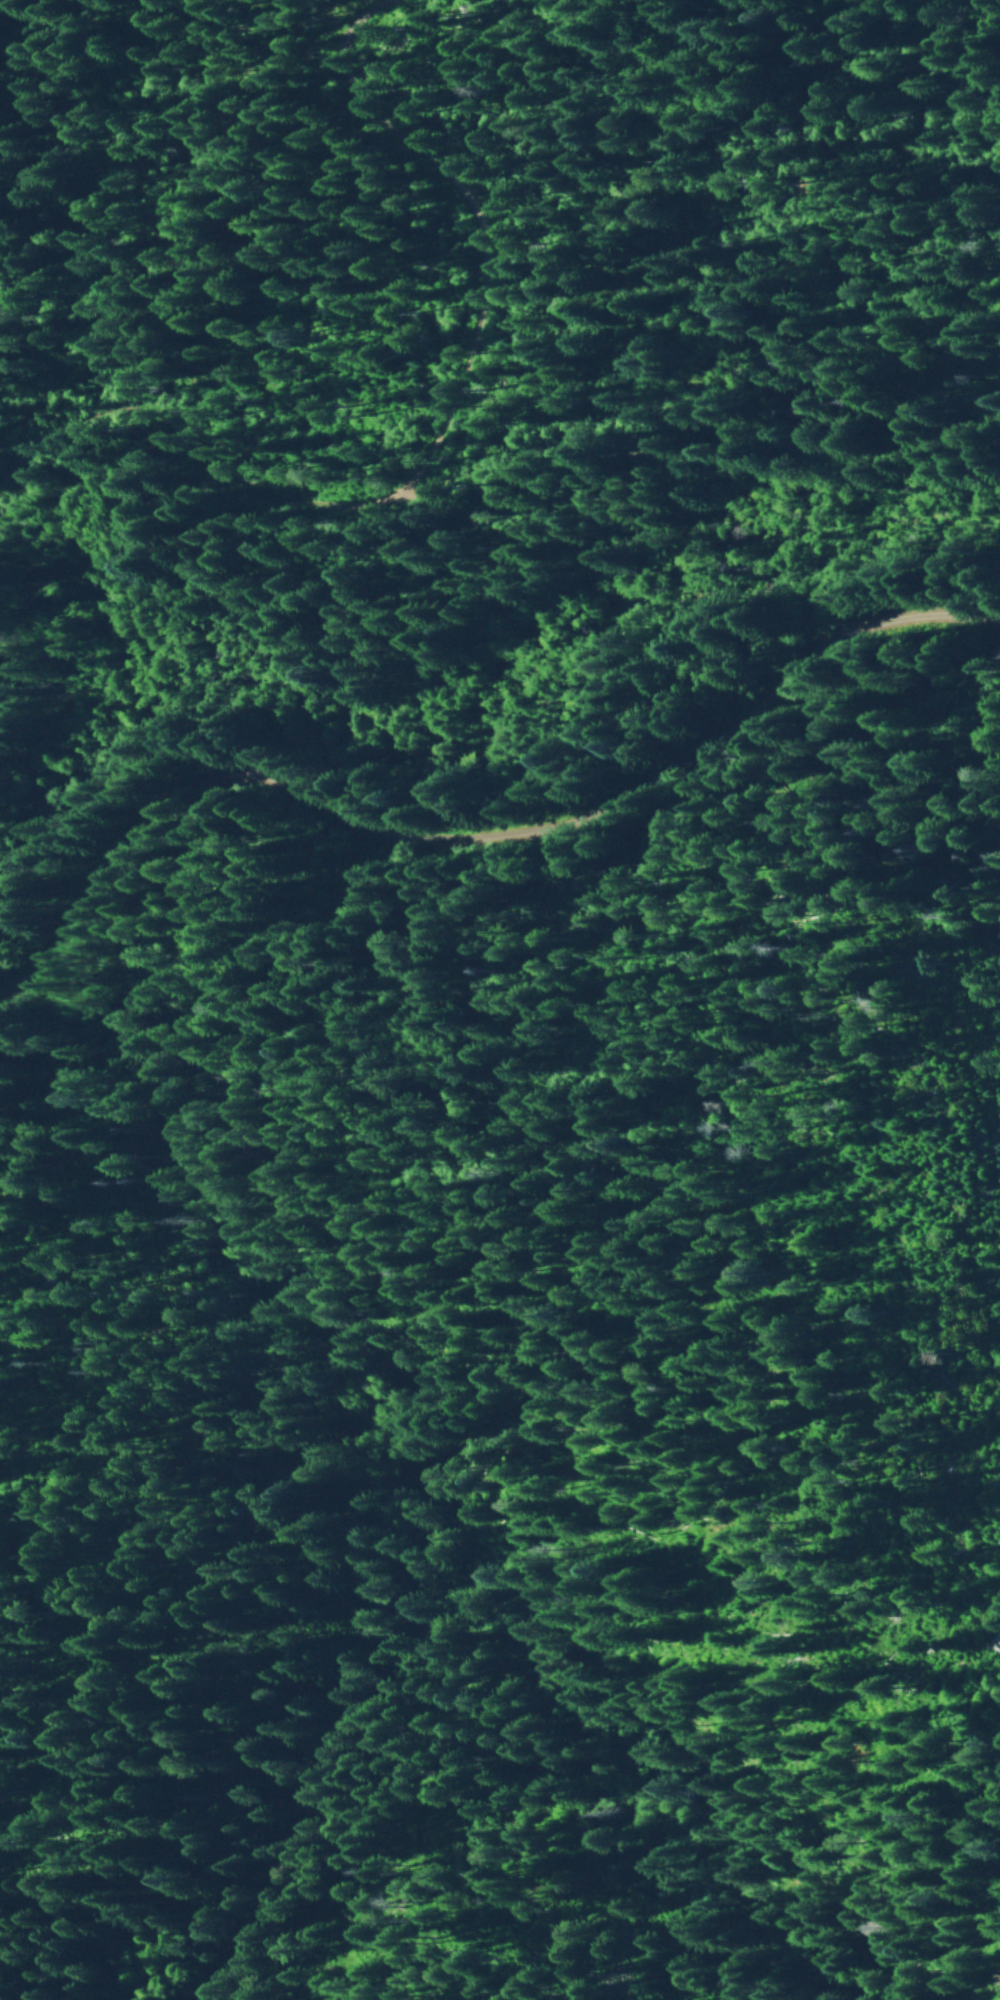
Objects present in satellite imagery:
road: (443, 446)
river: (503, 649)
road: (483, 836)

